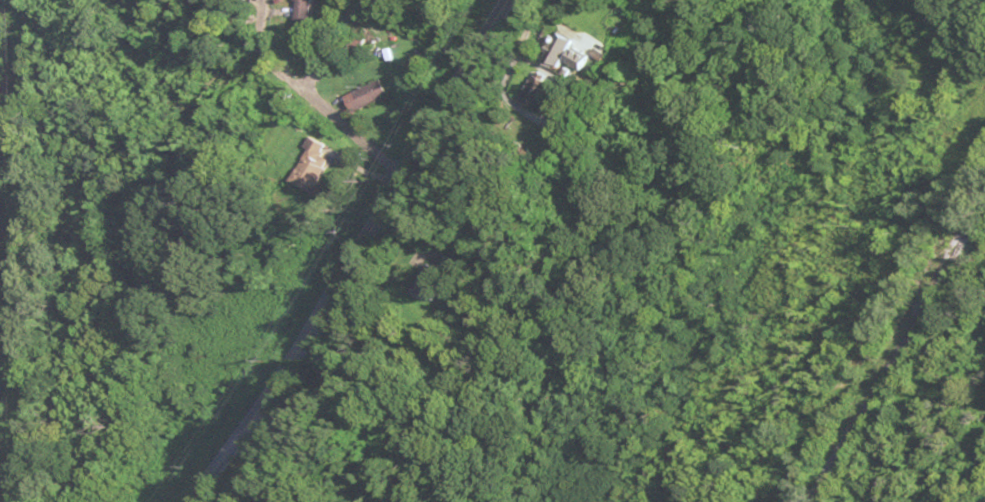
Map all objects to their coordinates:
building: (306, 11)
building: (428, 14)
building: (559, 51)
building: (581, 55)
building: (537, 93)
building: (359, 99)
building: (316, 166)
road: (327, 252)
railway: (889, 341)

